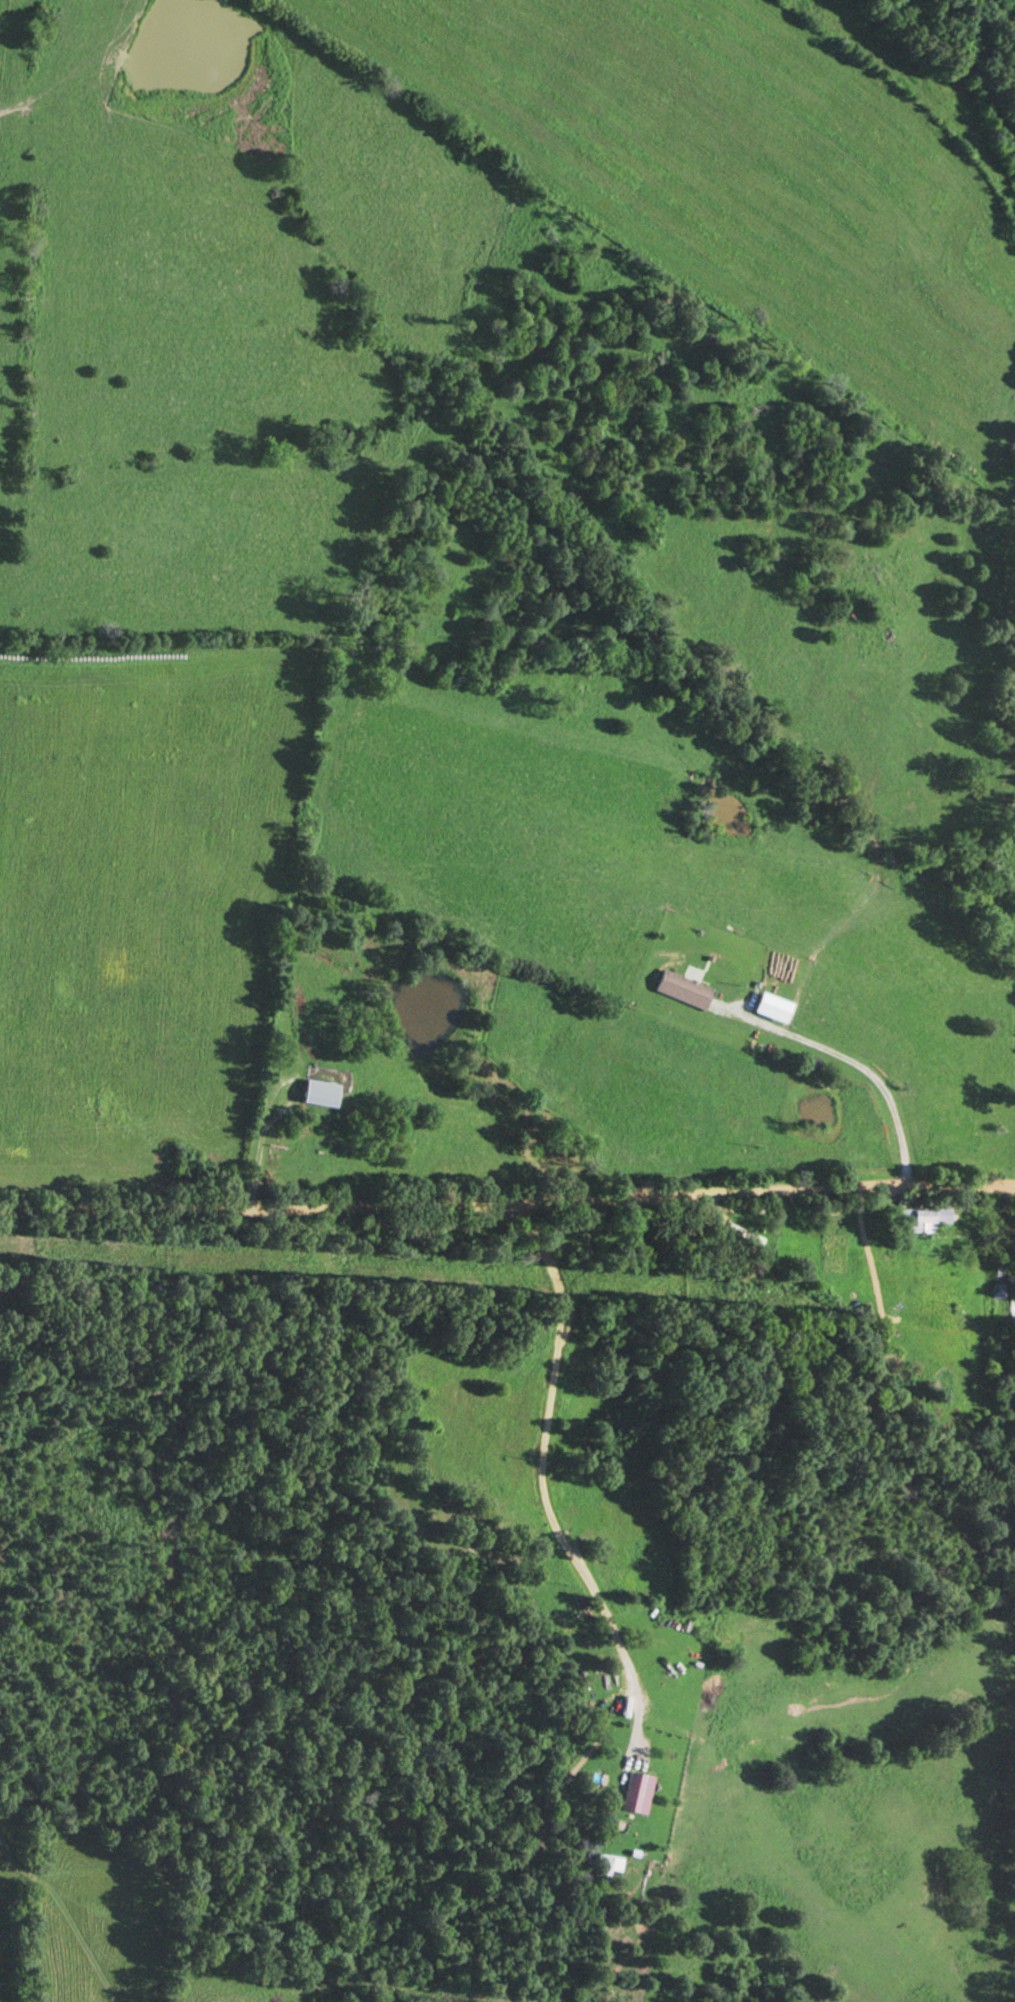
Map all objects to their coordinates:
building: (680, 988)
building: (316, 1092)
road: (507, 1198)
building: (921, 1217)
road: (619, 1646)
building: (634, 1792)
road: (980, 1995)

